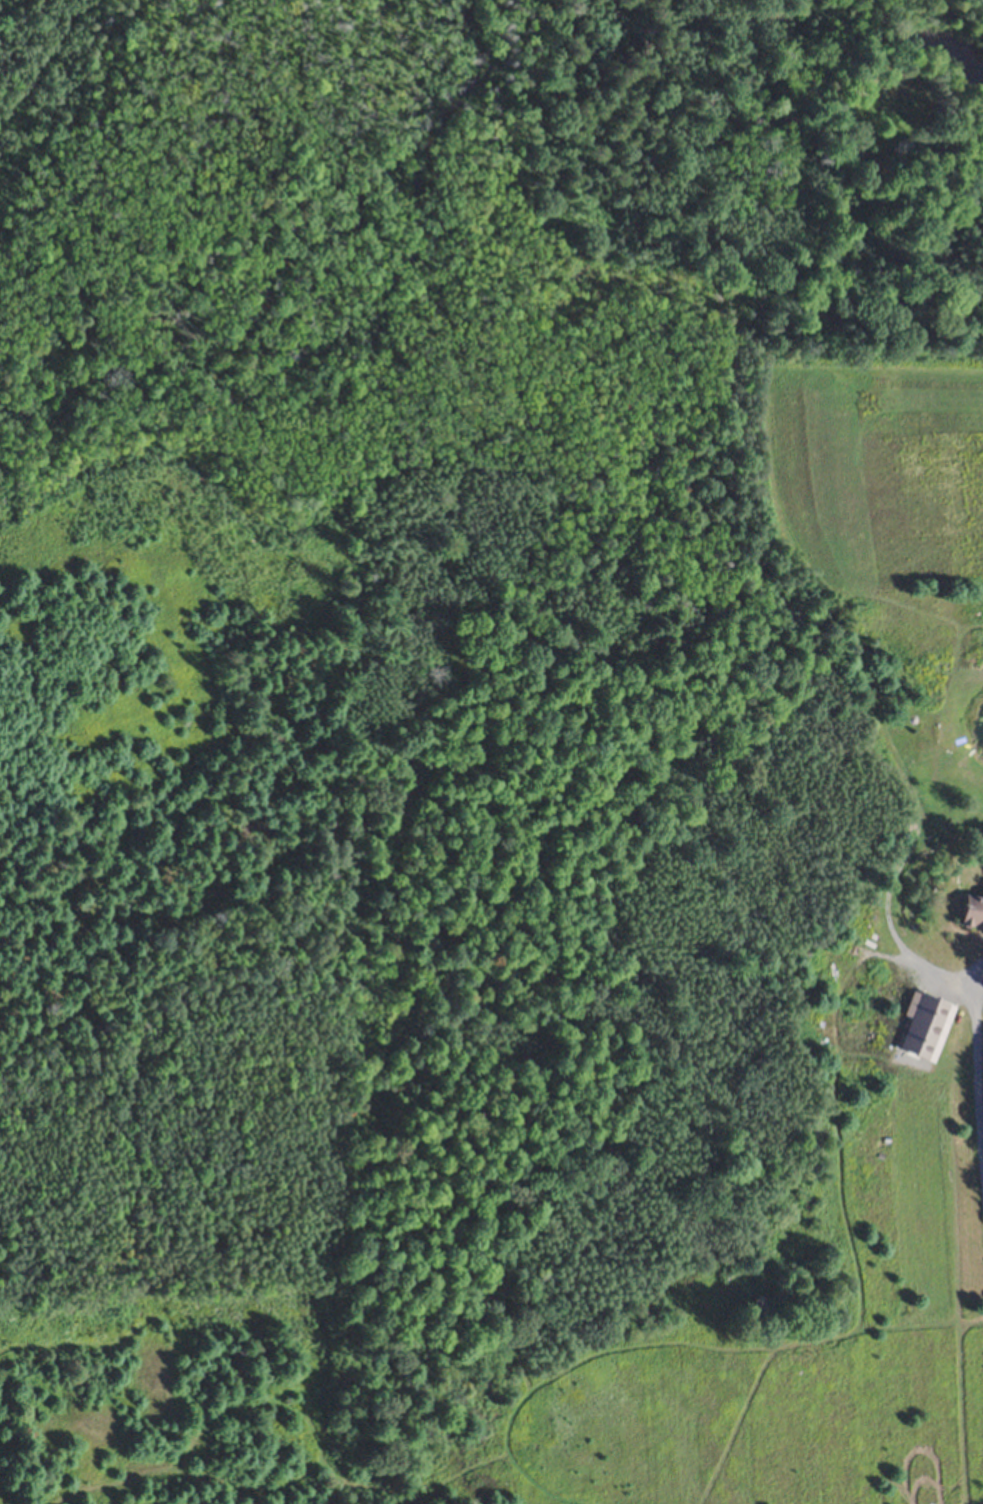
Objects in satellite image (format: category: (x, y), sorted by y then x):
building: (973, 914)
road: (982, 1037)

